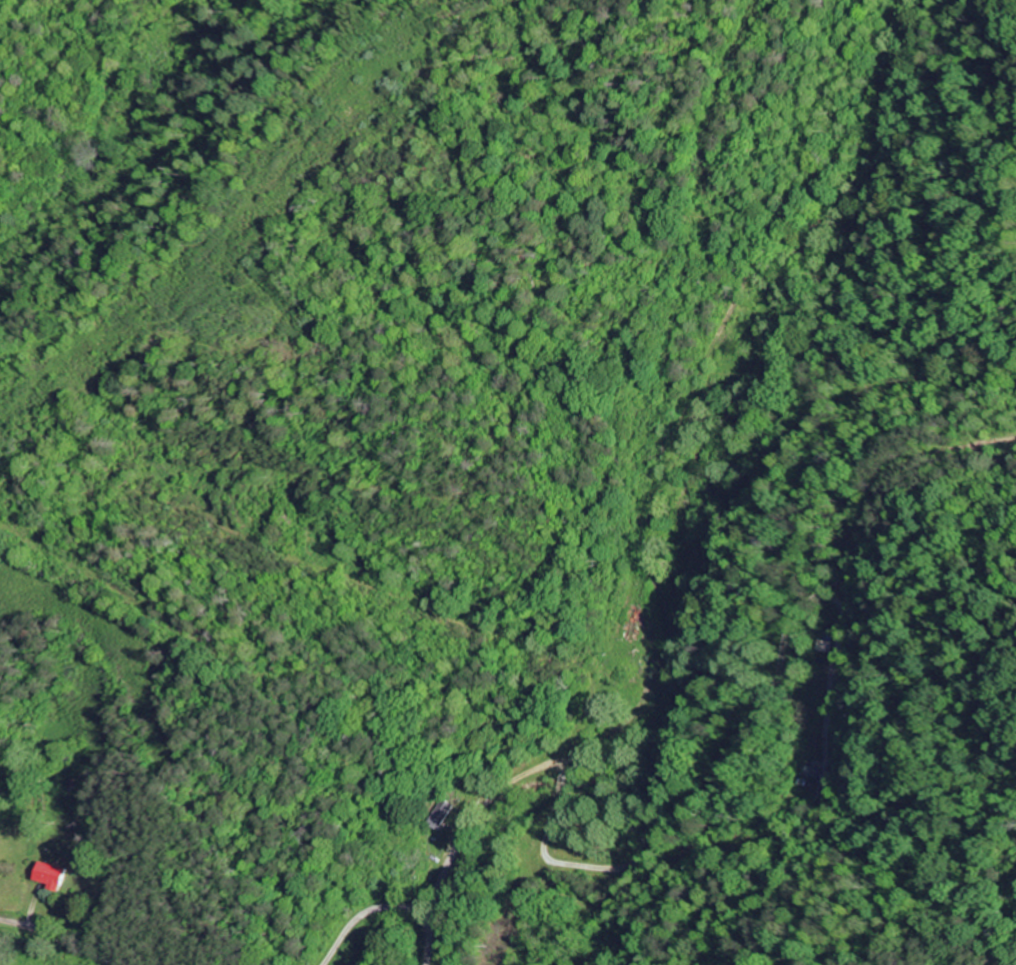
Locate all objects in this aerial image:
road: (725, 317)
road: (606, 735)
building: (47, 876)
road: (363, 913)
road: (60, 941)

